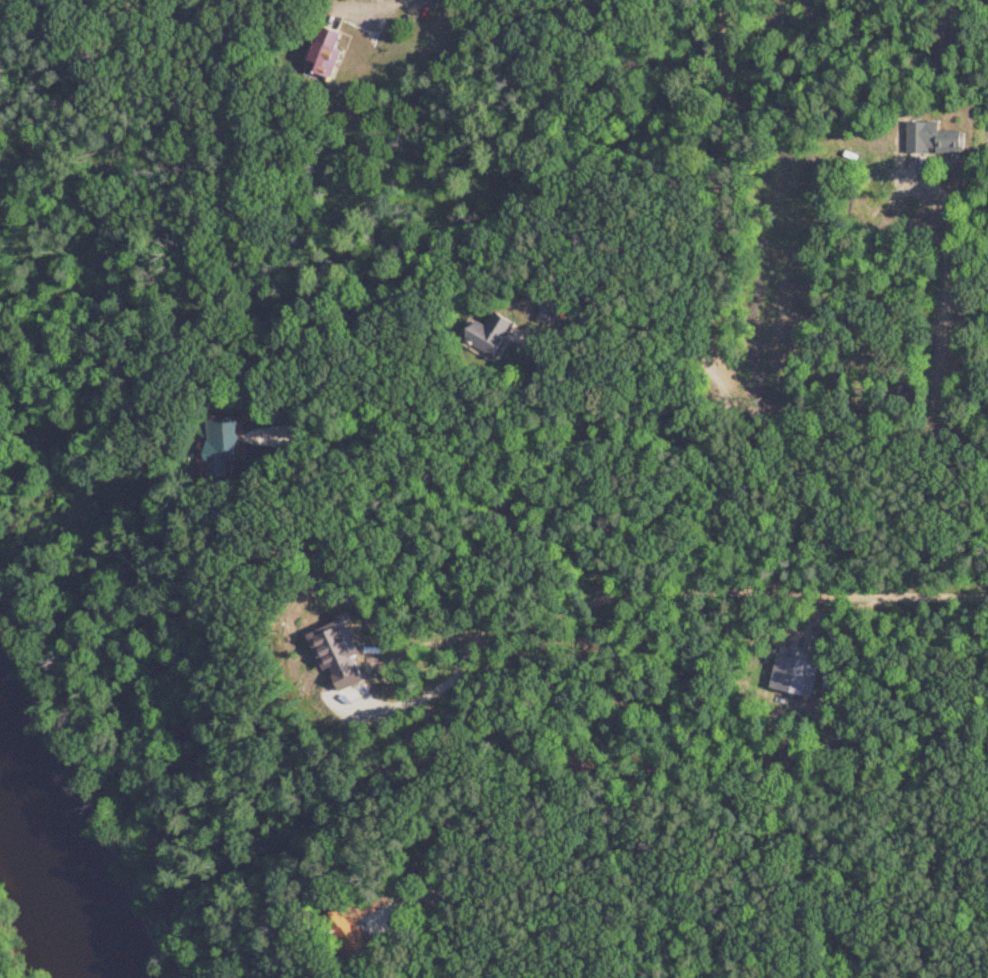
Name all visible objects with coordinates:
road: (354, 2)
building: (930, 141)
road: (948, 263)
building: (546, 312)
building: (573, 312)
road: (630, 314)
road: (715, 330)
building: (488, 336)
road: (516, 419)
road: (649, 590)
river: (47, 879)
road: (530, 924)

